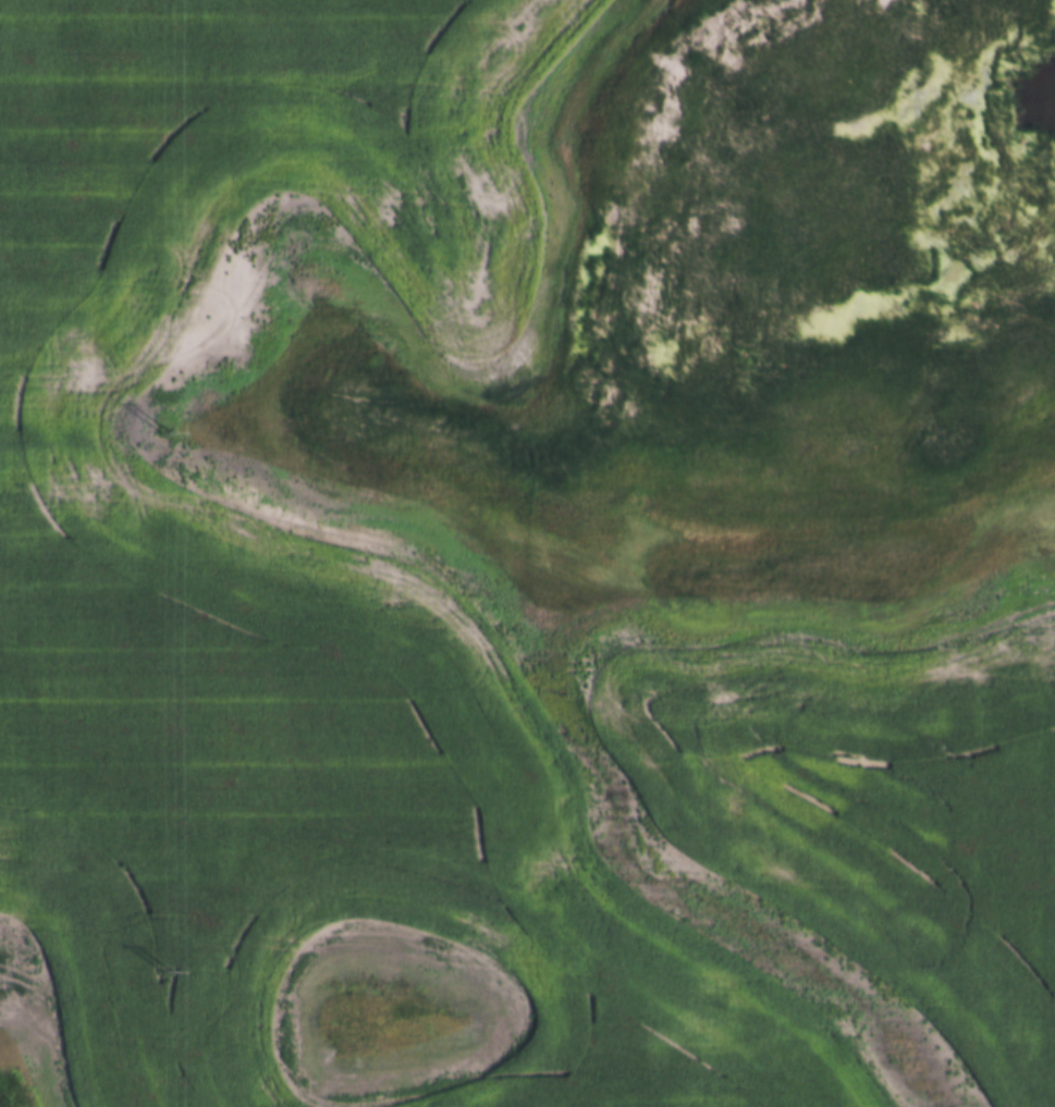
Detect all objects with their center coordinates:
power tower: (163, 431)
power tower: (162, 970)

